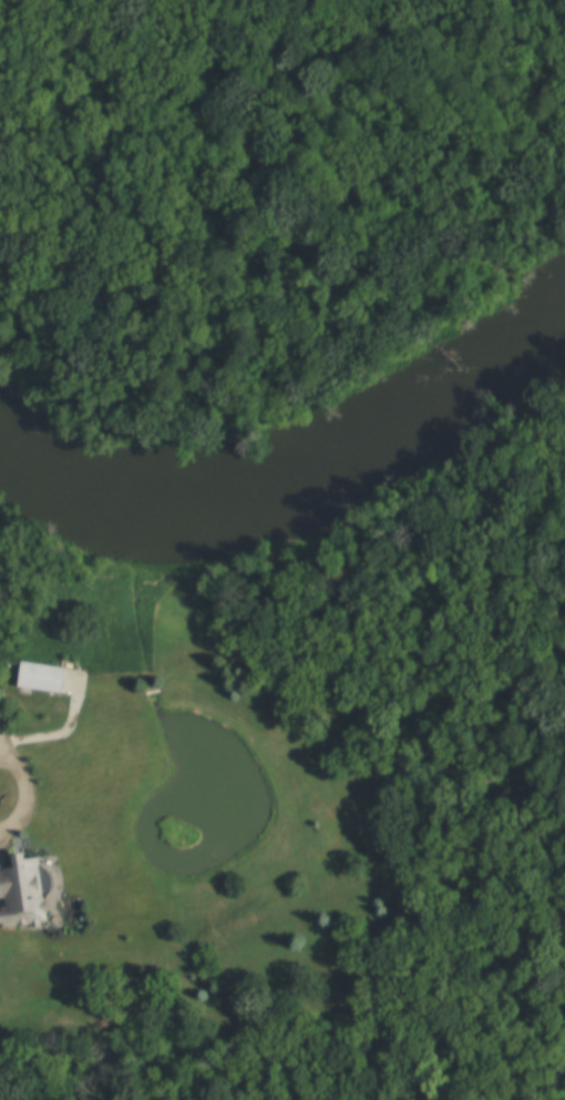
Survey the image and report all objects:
building: (47, 674)
road: (22, 793)
building: (28, 892)

